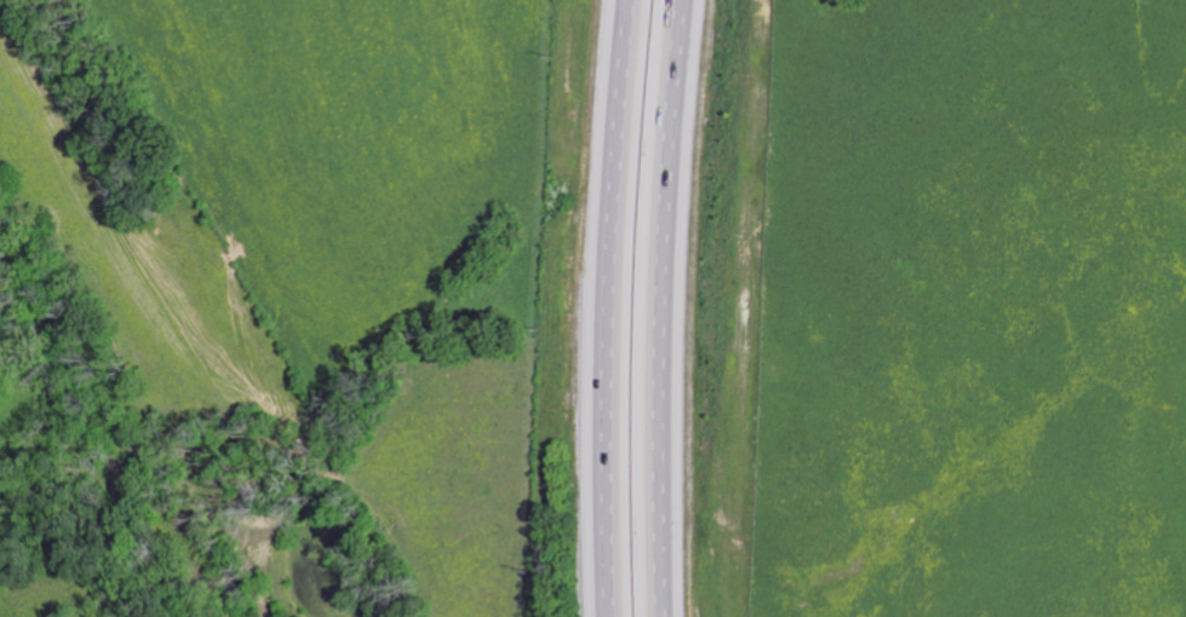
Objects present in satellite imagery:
road: (611, 307)
road: (660, 307)

